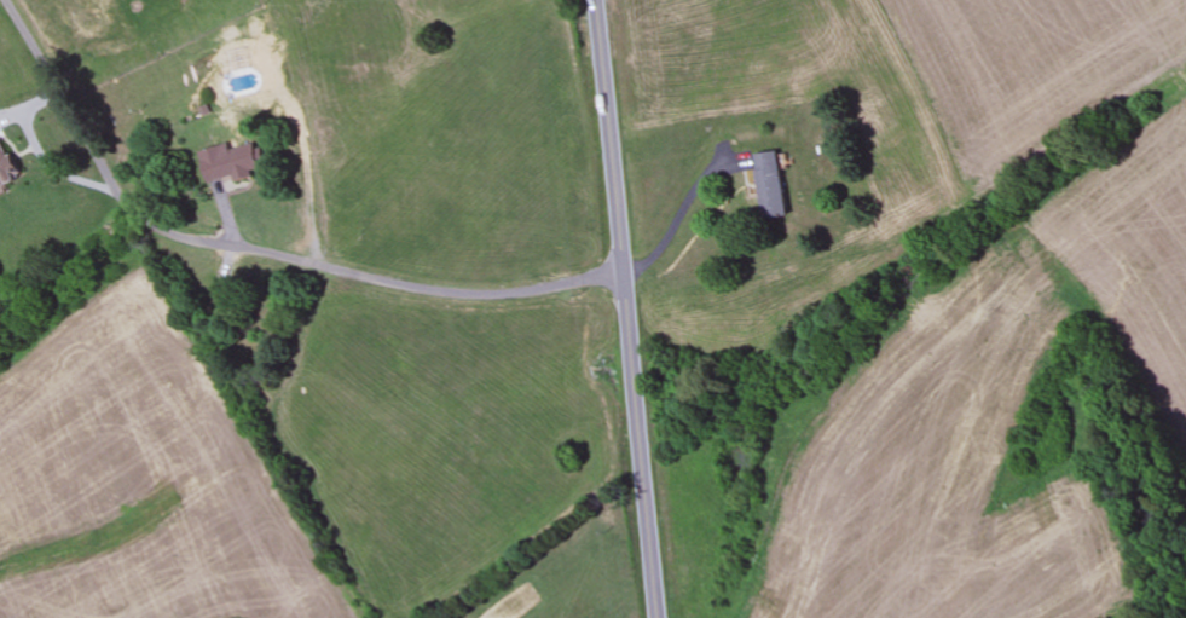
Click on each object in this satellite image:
building: (230, 162)
building: (7, 166)
building: (774, 185)
road: (251, 252)
road: (625, 308)

